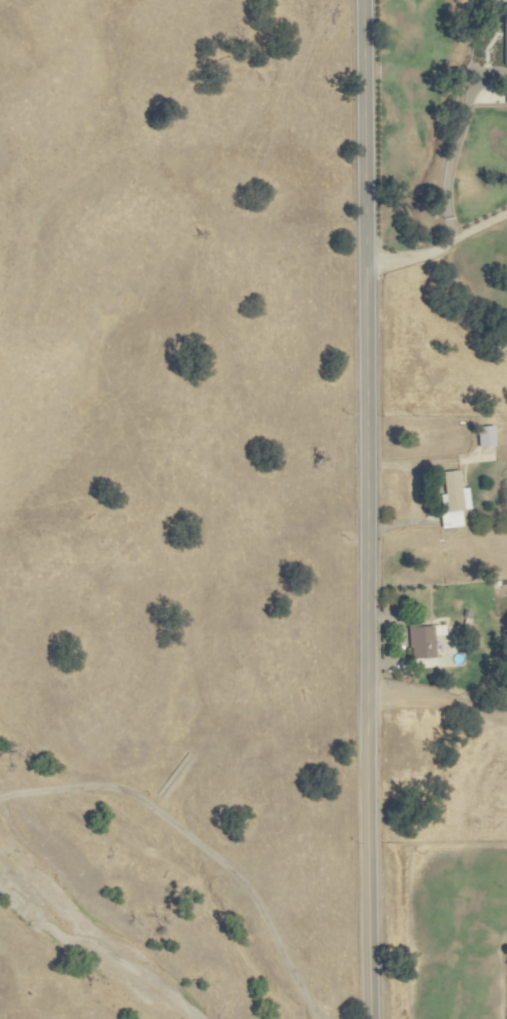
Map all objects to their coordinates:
building: (504, 34)
building: (506, 96)
road: (452, 159)
road: (440, 251)
building: (485, 436)
crop: (218, 483)
road: (367, 509)
building: (420, 642)
road: (198, 842)

